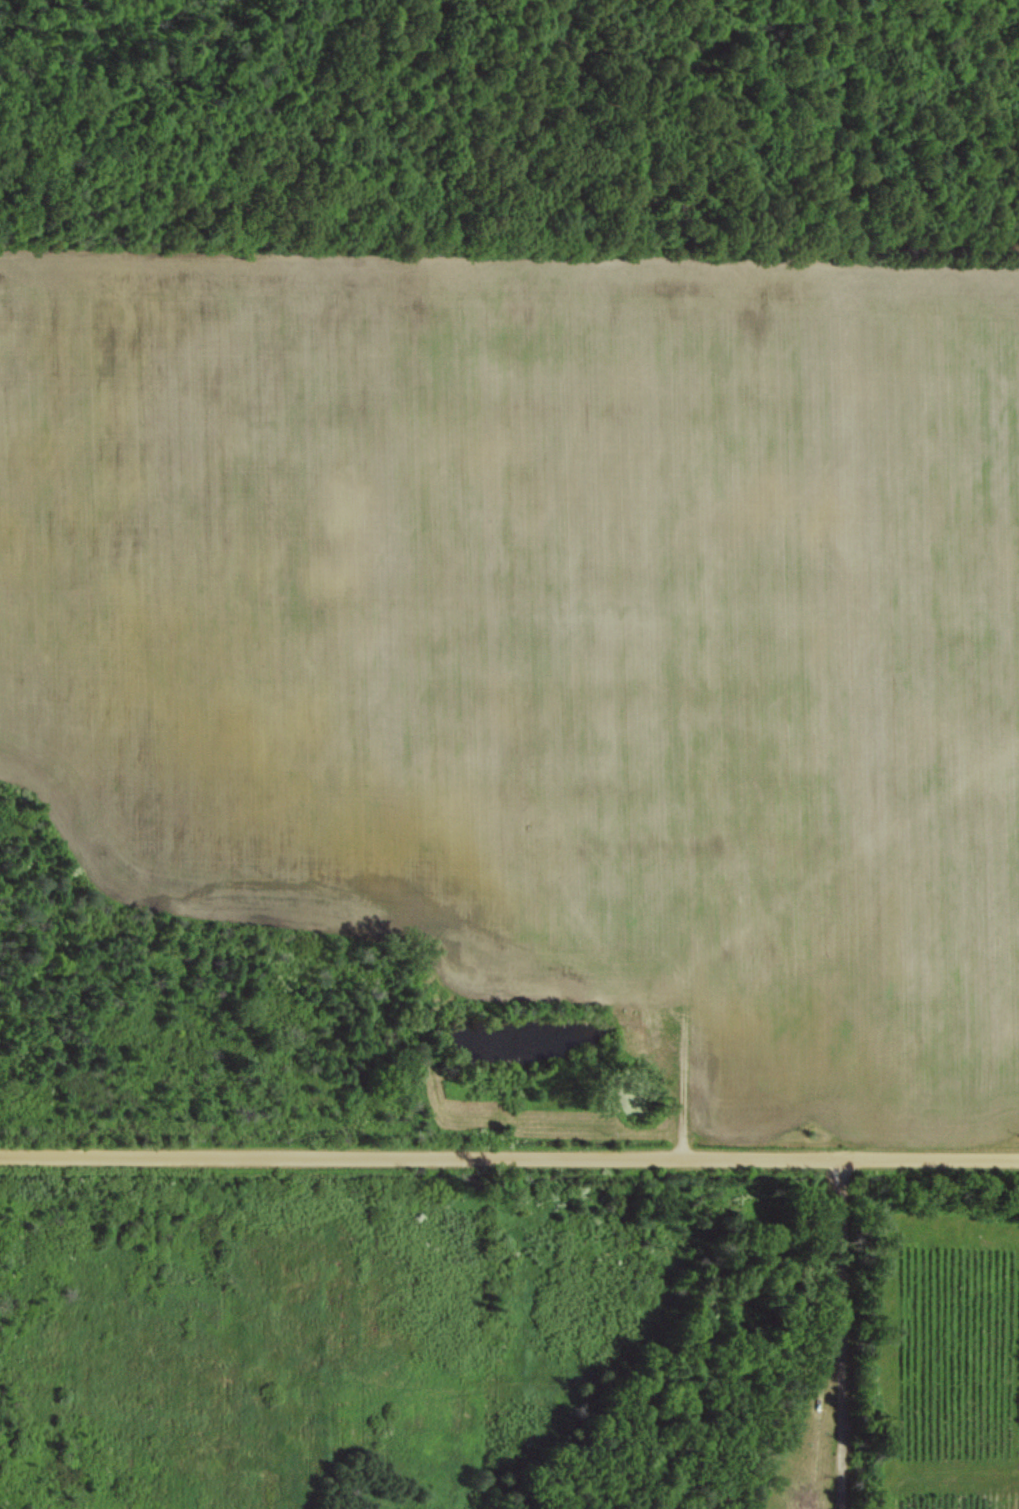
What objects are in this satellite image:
road: (509, 1158)
road: (843, 1334)

